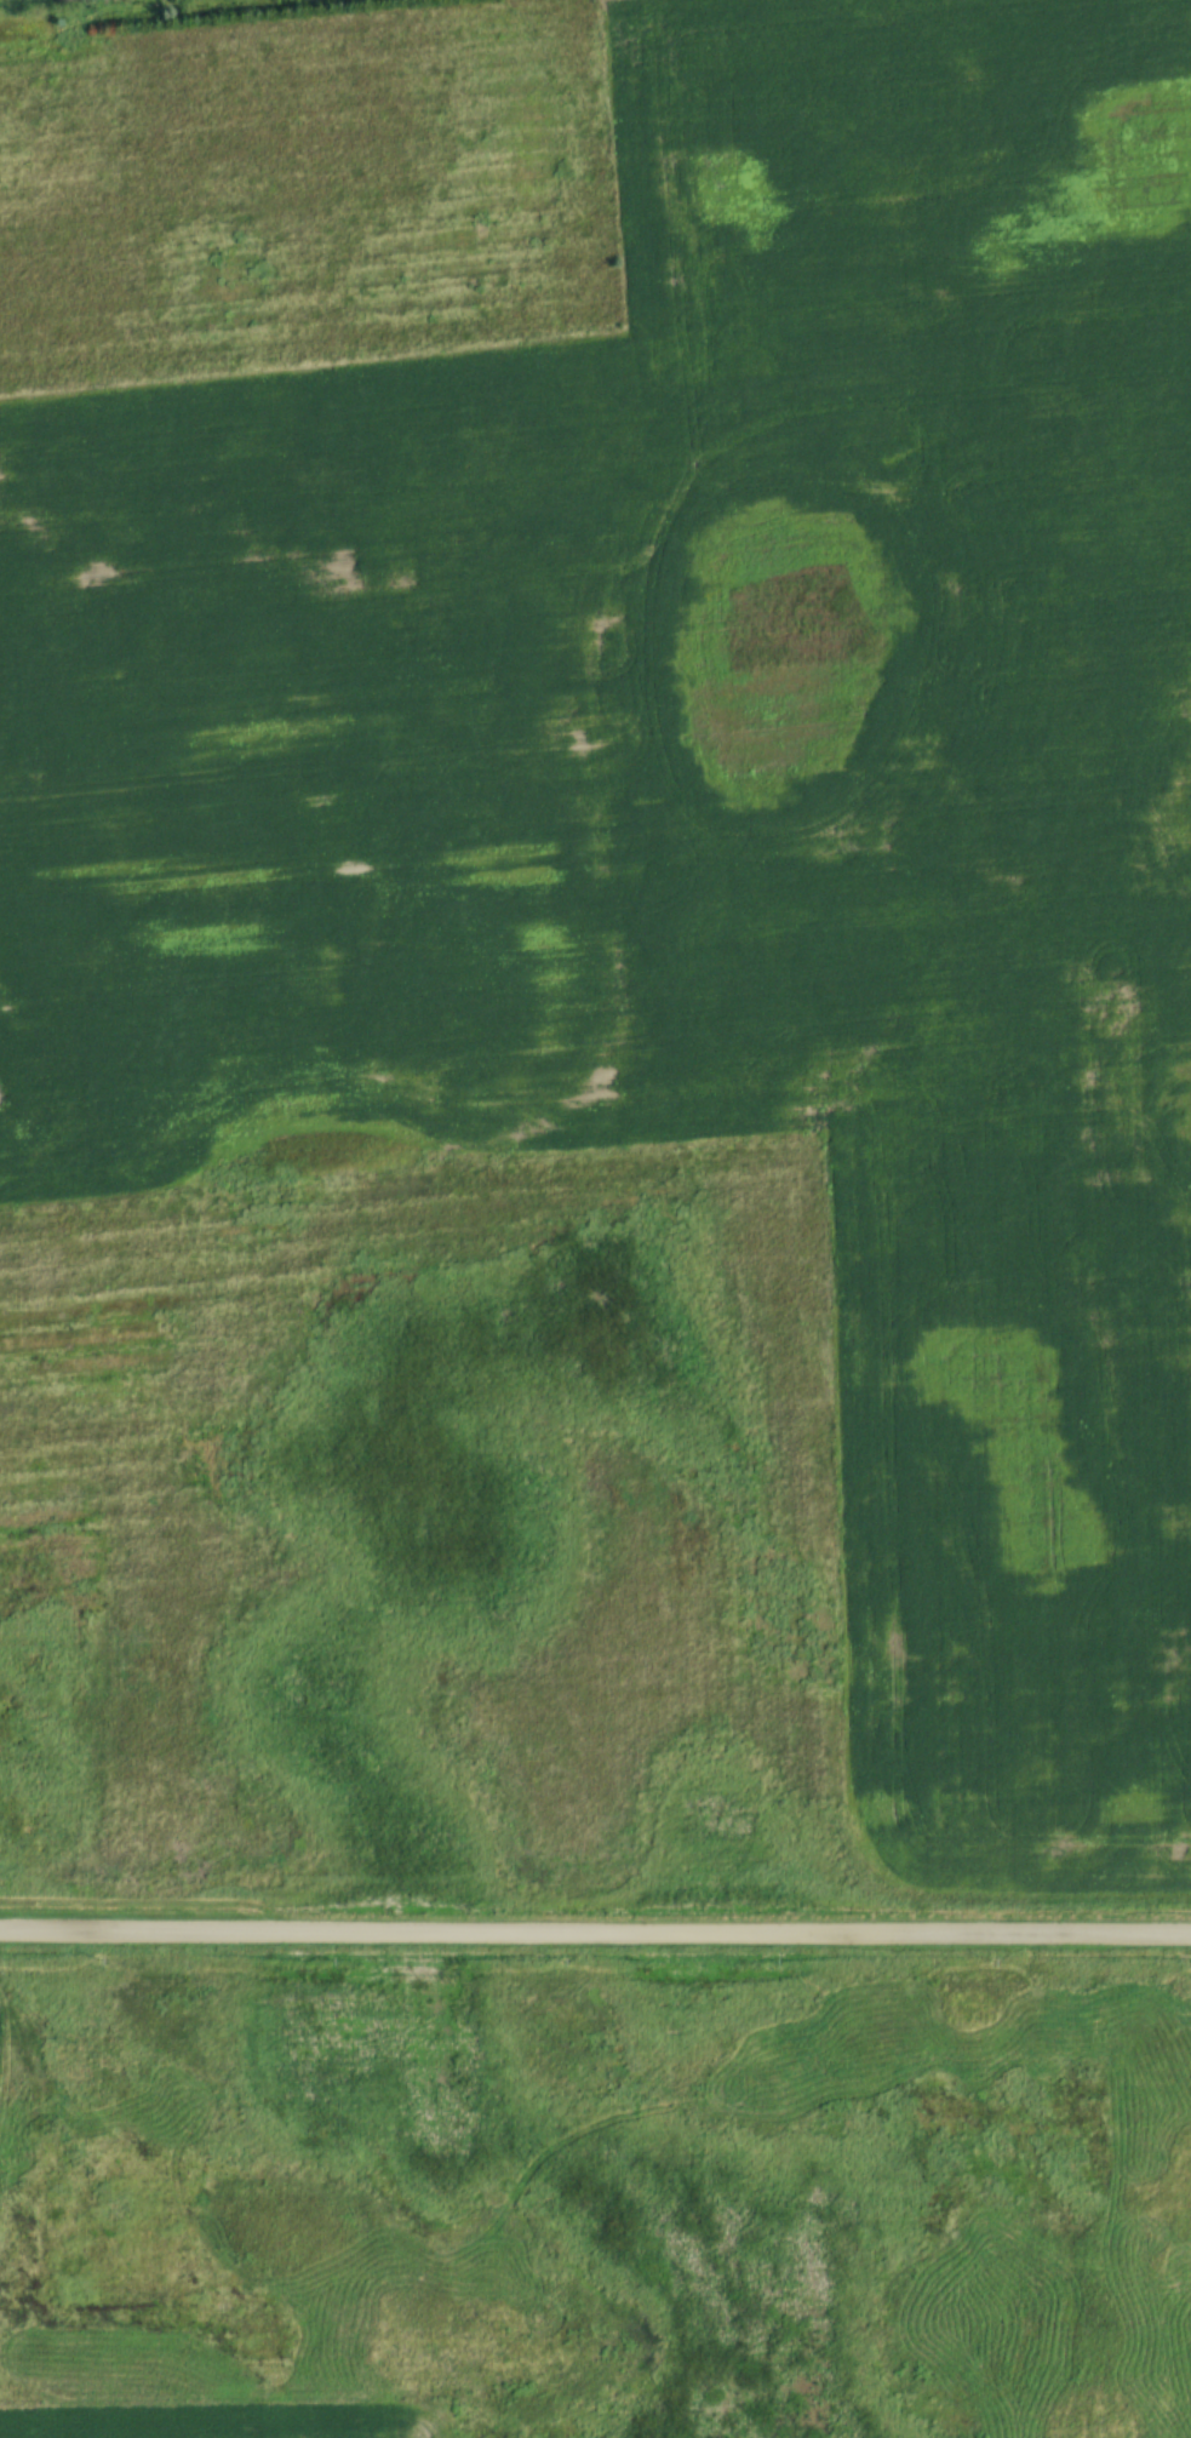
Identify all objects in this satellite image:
road: (595, 1931)

